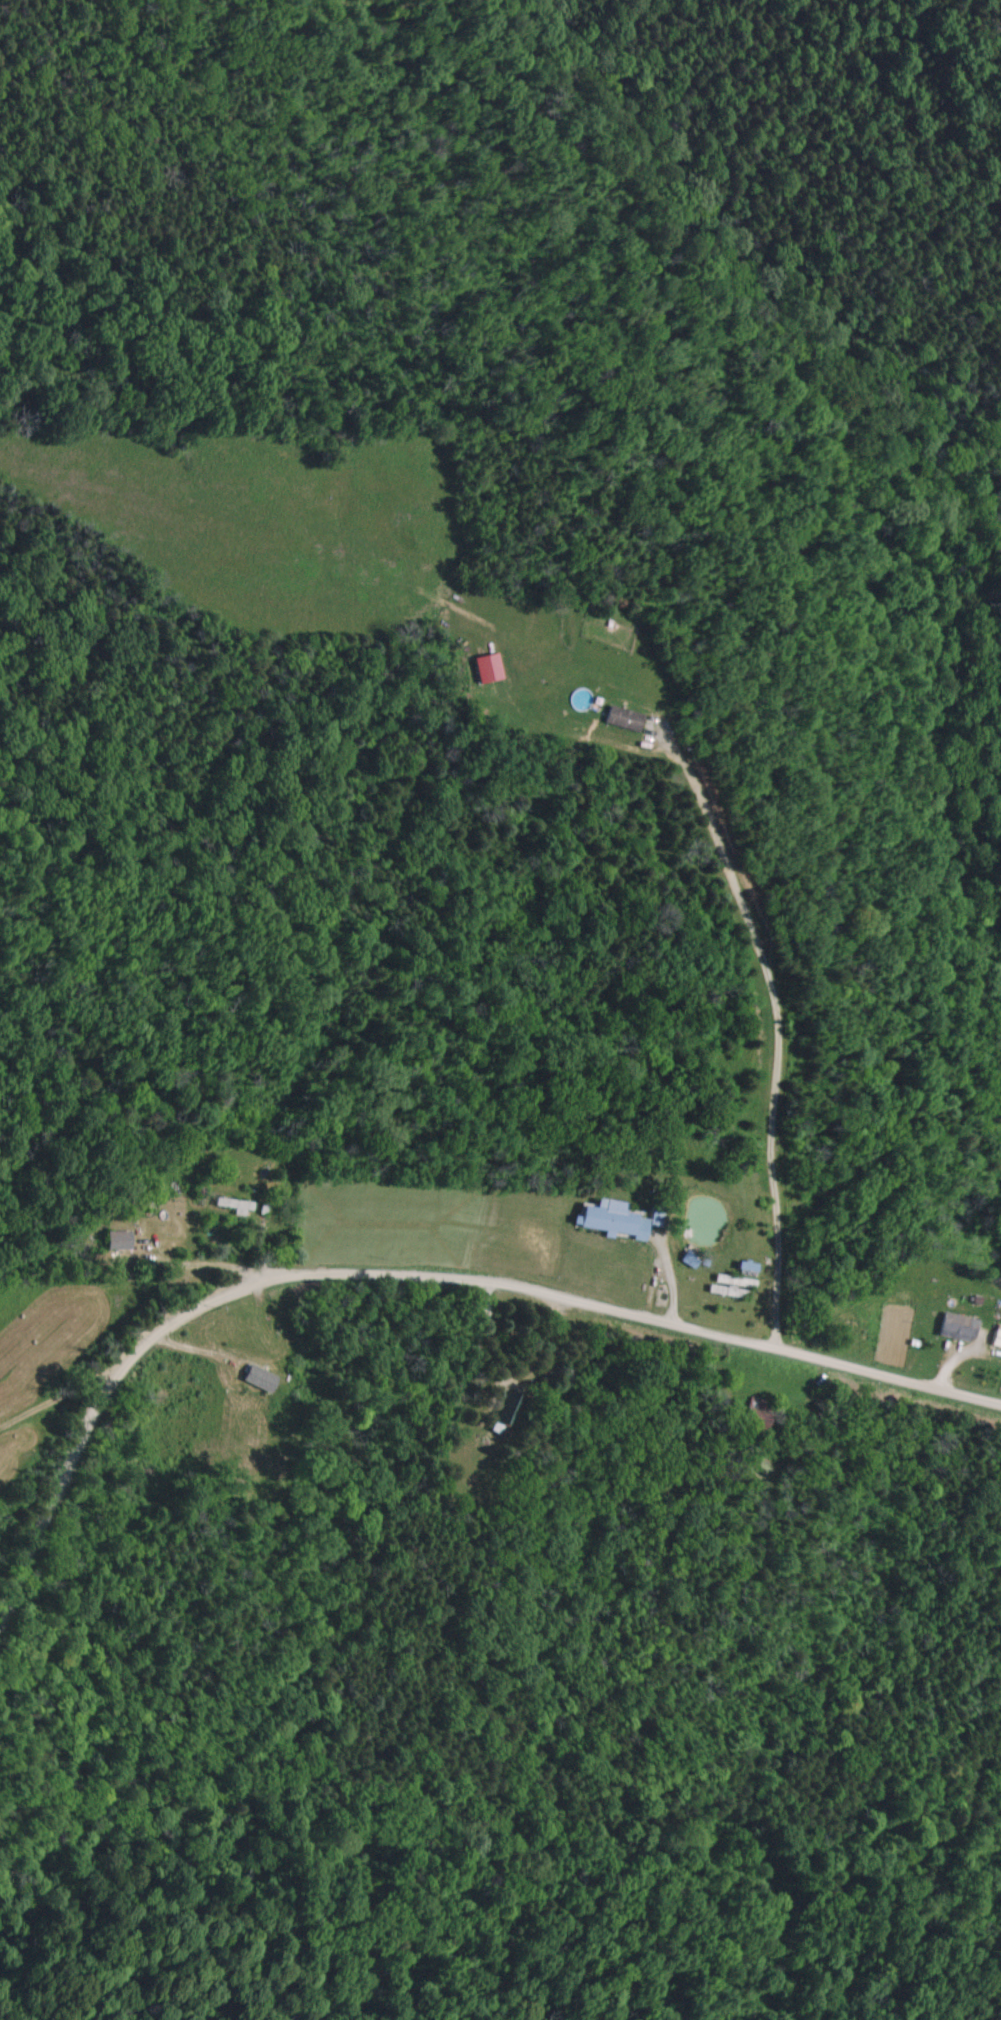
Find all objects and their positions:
building: (484, 668)
building: (620, 718)
building: (609, 1220)
building: (114, 1241)
road: (205, 1249)
road: (409, 1268)
building: (954, 1328)
building: (995, 1337)
building: (256, 1380)

